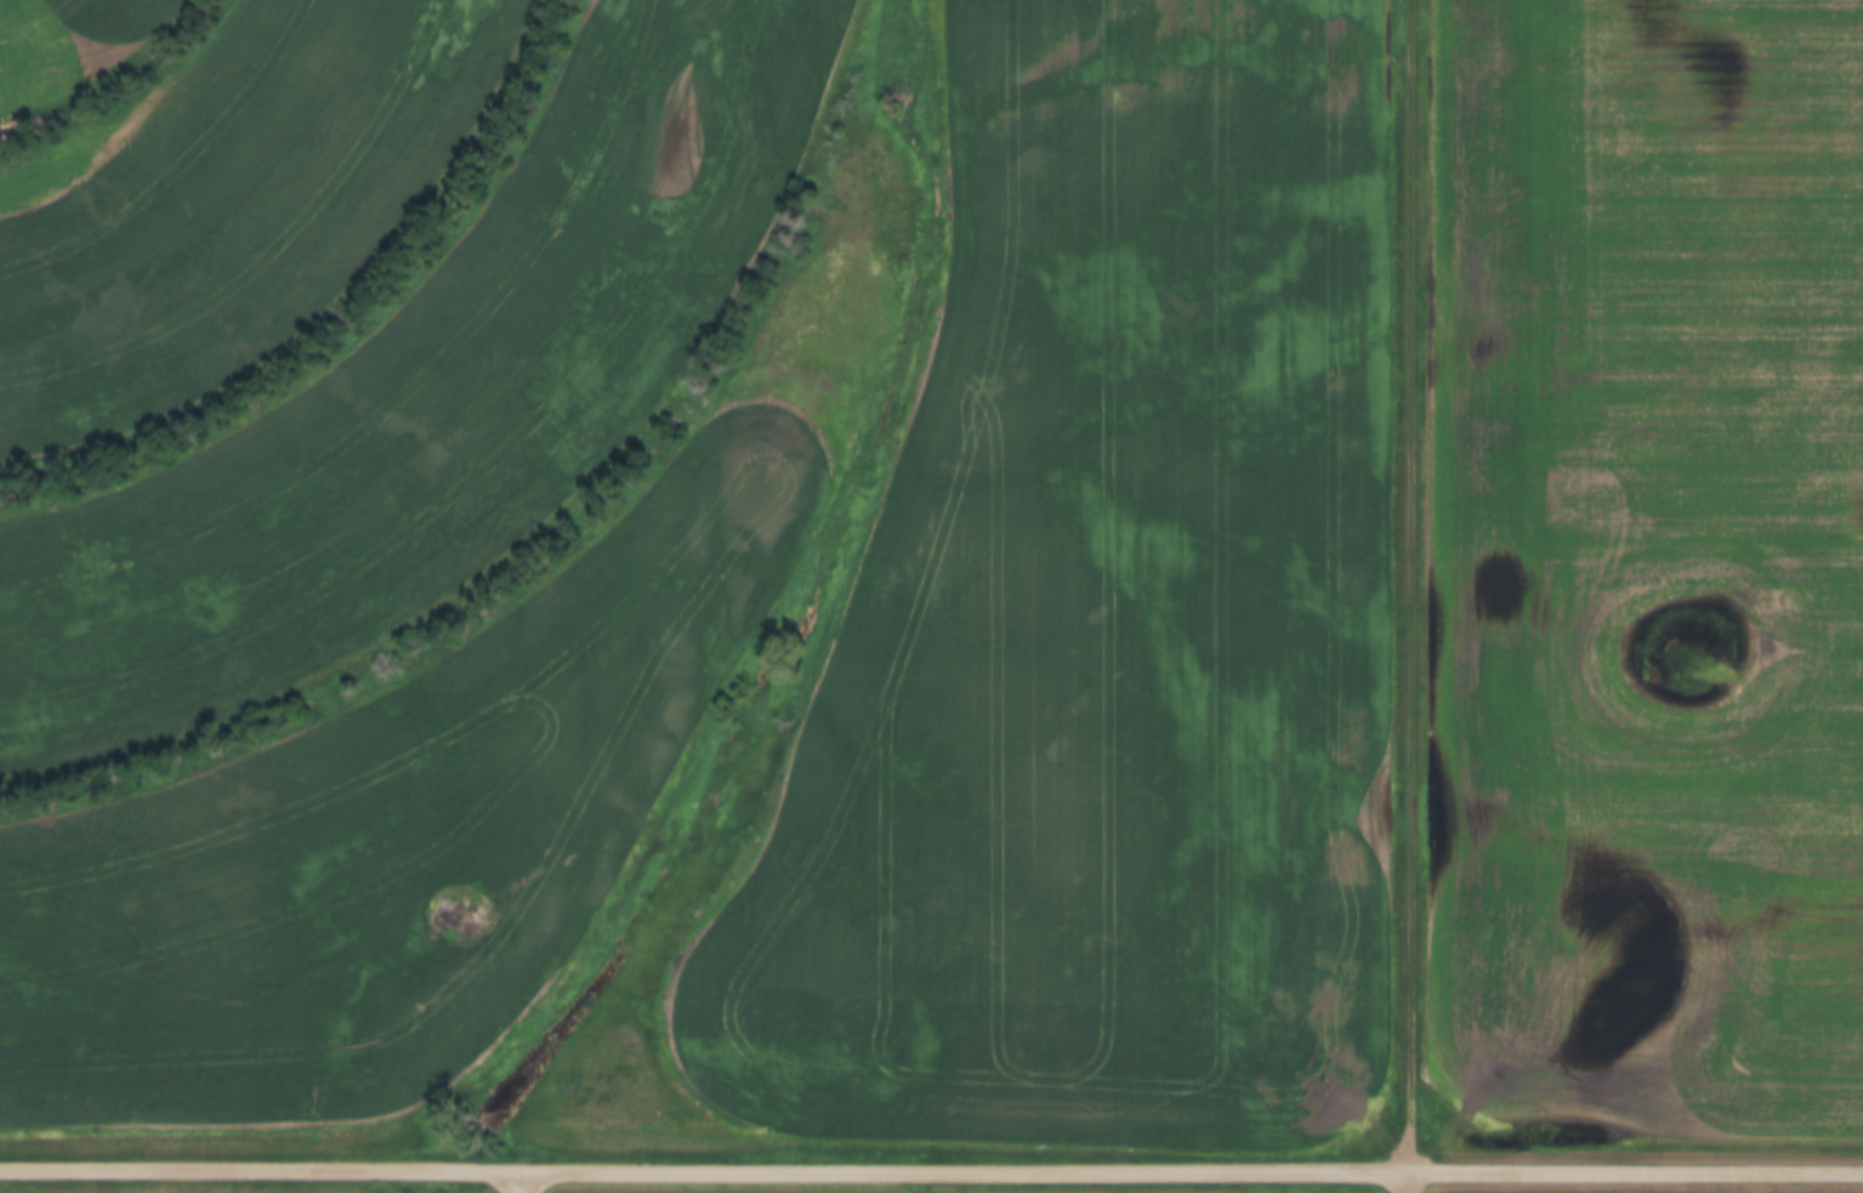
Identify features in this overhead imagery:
road: (1415, 583)
road: (931, 1164)
road: (524, 1177)
road: (1410, 1180)

